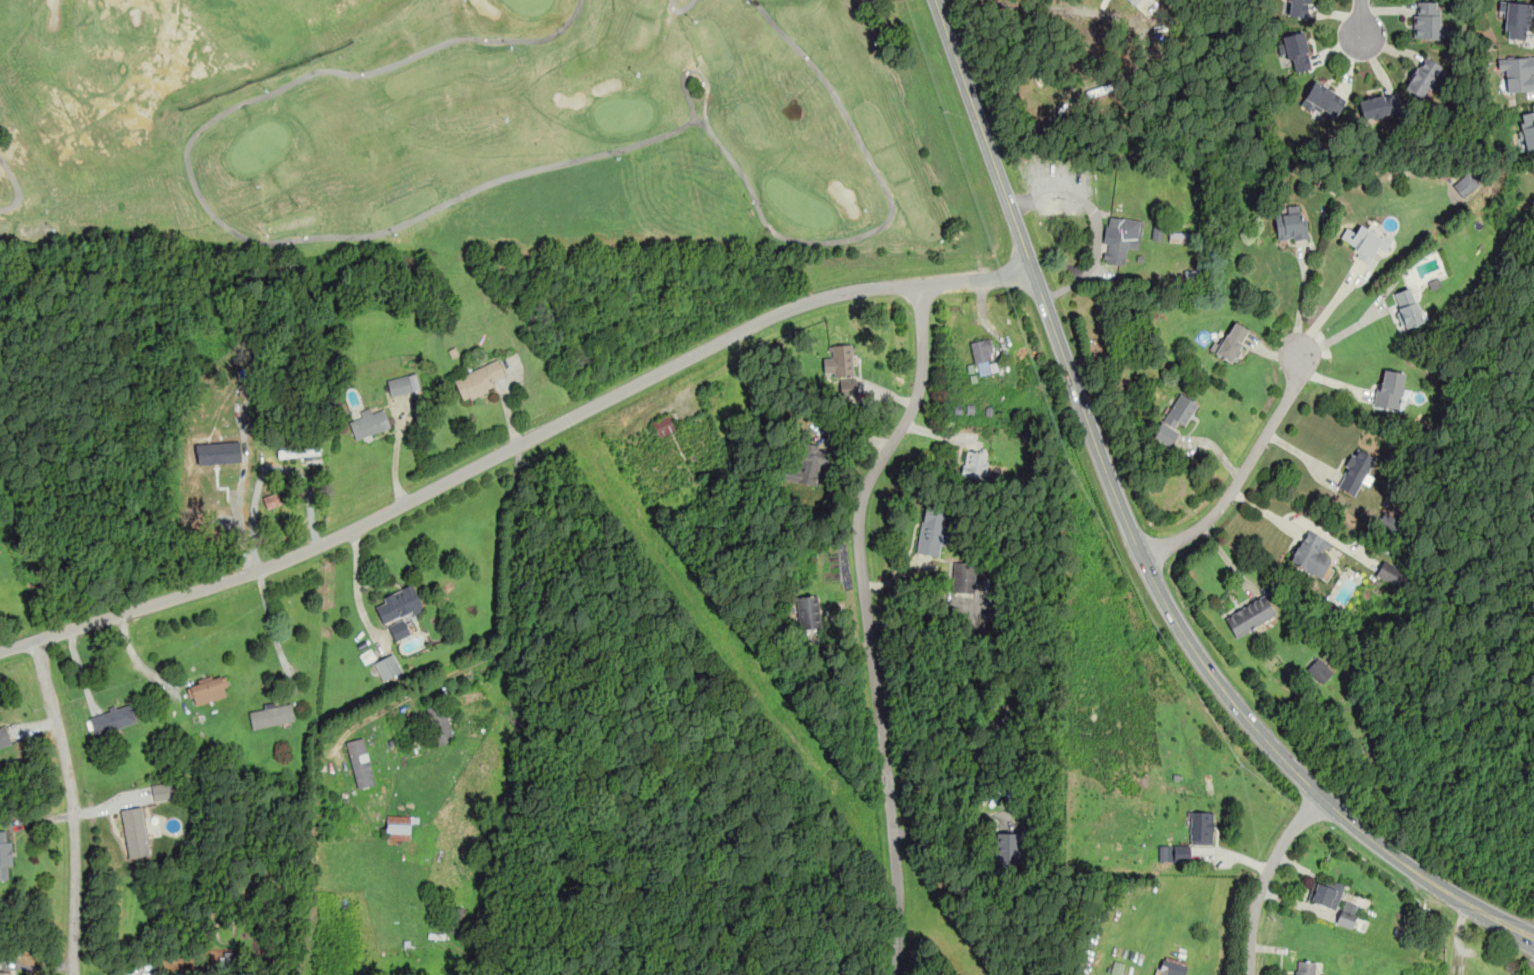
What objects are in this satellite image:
building: (1135, 2)
building: (1295, 7)
building: (1516, 18)
building: (1426, 19)
road: (1360, 20)
building: (1294, 50)
building: (1518, 71)
building: (1422, 76)
building: (1323, 100)
building: (1378, 106)
park: (479, 127)
building: (1526, 128)
road: (1095, 223)
building: (1291, 223)
building: (1175, 237)
building: (1120, 238)
building: (1364, 243)
road: (1301, 298)
building: (1407, 307)
road: (1327, 308)
road: (1342, 334)
building: (1232, 341)
building: (982, 356)
building: (839, 361)
building: (478, 380)
building: (846, 384)
building: (399, 385)
building: (1389, 389)
building: (1174, 419)
building: (370, 422)
building: (663, 425)
road: (513, 445)
building: (299, 447)
building: (219, 453)
road: (395, 459)
building: (975, 464)
building: (807, 466)
building: (1355, 470)
road: (1243, 472)
road: (271, 473)
building: (273, 499)
building: (931, 531)
road: (1135, 538)
building: (1311, 553)
building: (1388, 571)
building: (965, 576)
road: (355, 582)
building: (398, 611)
building: (808, 612)
building: (1250, 616)
road: (510, 617)
road: (867, 623)
road: (272, 626)
building: (386, 662)
road: (138, 663)
road: (472, 666)
building: (1319, 670)
building: (207, 689)
road: (389, 706)
building: (271, 715)
building: (113, 718)
building: (438, 720)
building: (4, 738)
building: (360, 762)
building: (162, 790)
road: (72, 806)
building: (398, 827)
building: (1198, 827)
building: (135, 833)
road: (948, 833)
building: (1007, 848)
building: (1181, 853)
building: (5, 854)
road: (1264, 877)
building: (1321, 894)
building: (1351, 919)
building: (454, 920)
road: (1458, 937)
building: (1169, 967)
building: (1305, 968)
building: (6, 973)

